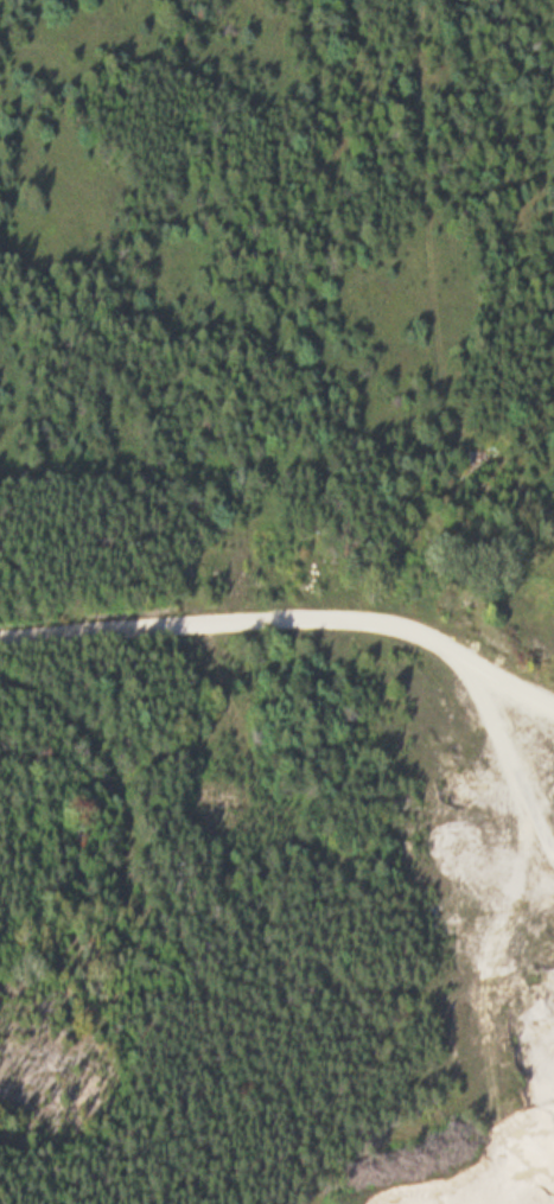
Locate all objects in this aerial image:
road: (259, 644)

